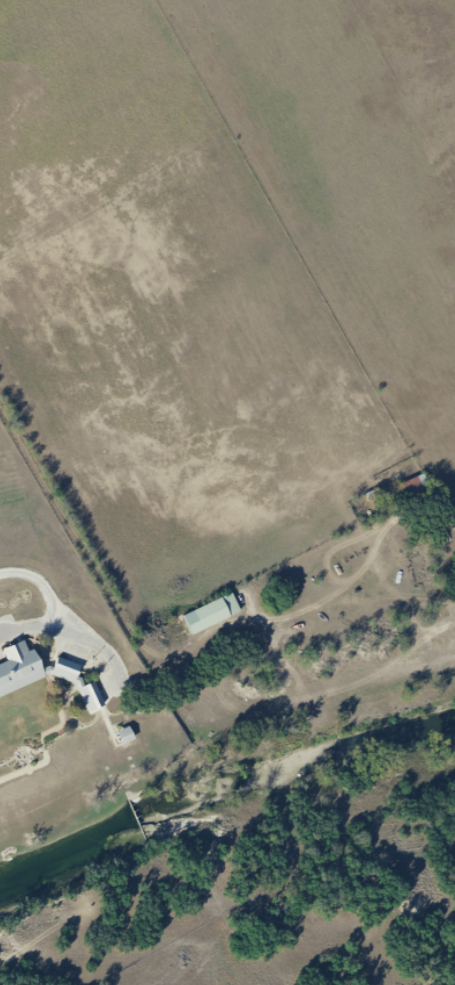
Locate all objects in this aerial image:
building: (414, 490)
road: (58, 606)
building: (212, 613)
building: (47, 679)

